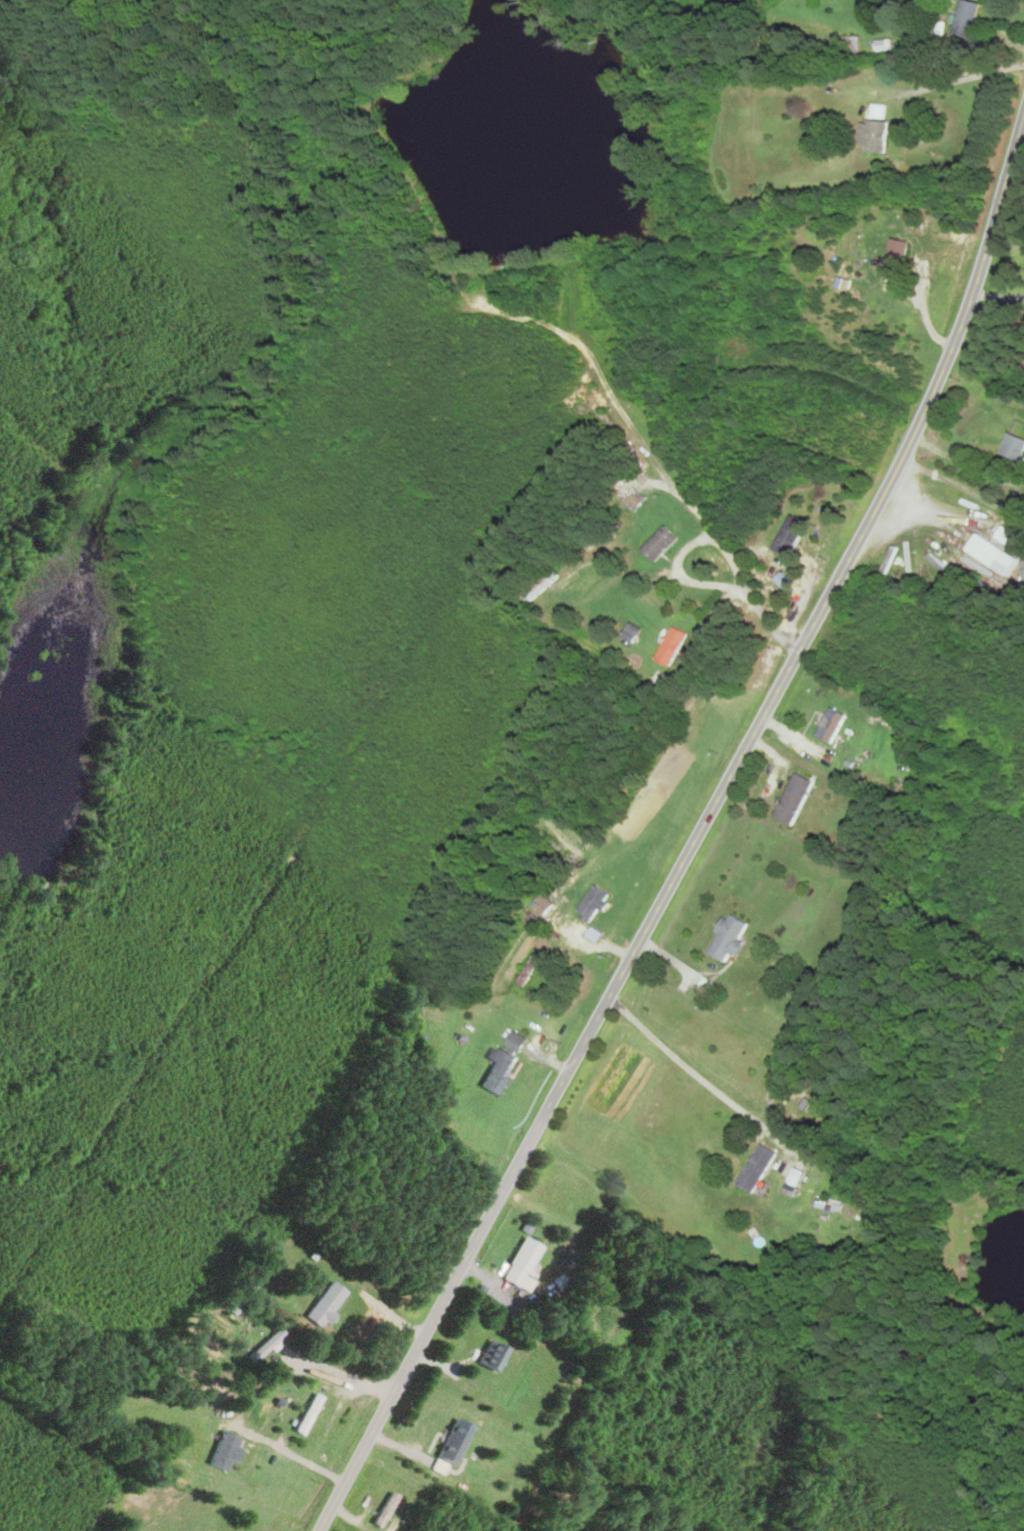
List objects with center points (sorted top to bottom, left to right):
building: (967, 19)
building: (844, 45)
road: (962, 83)
building: (874, 131)
building: (897, 253)
building: (1013, 450)
building: (635, 499)
building: (1005, 535)
building: (790, 536)
building: (659, 543)
road: (718, 545)
building: (985, 550)
building: (1023, 573)
building: (543, 585)
building: (631, 633)
building: (671, 647)
building: (830, 726)
building: (793, 800)
road: (689, 831)
building: (593, 905)
building: (727, 938)
road: (440, 1033)
building: (503, 1063)
building: (756, 1168)
building: (828, 1204)
building: (520, 1266)
building: (326, 1305)
building: (266, 1347)
building: (490, 1357)
building: (308, 1415)
building: (452, 1442)
building: (224, 1451)
road: (289, 1452)
building: (385, 1511)

